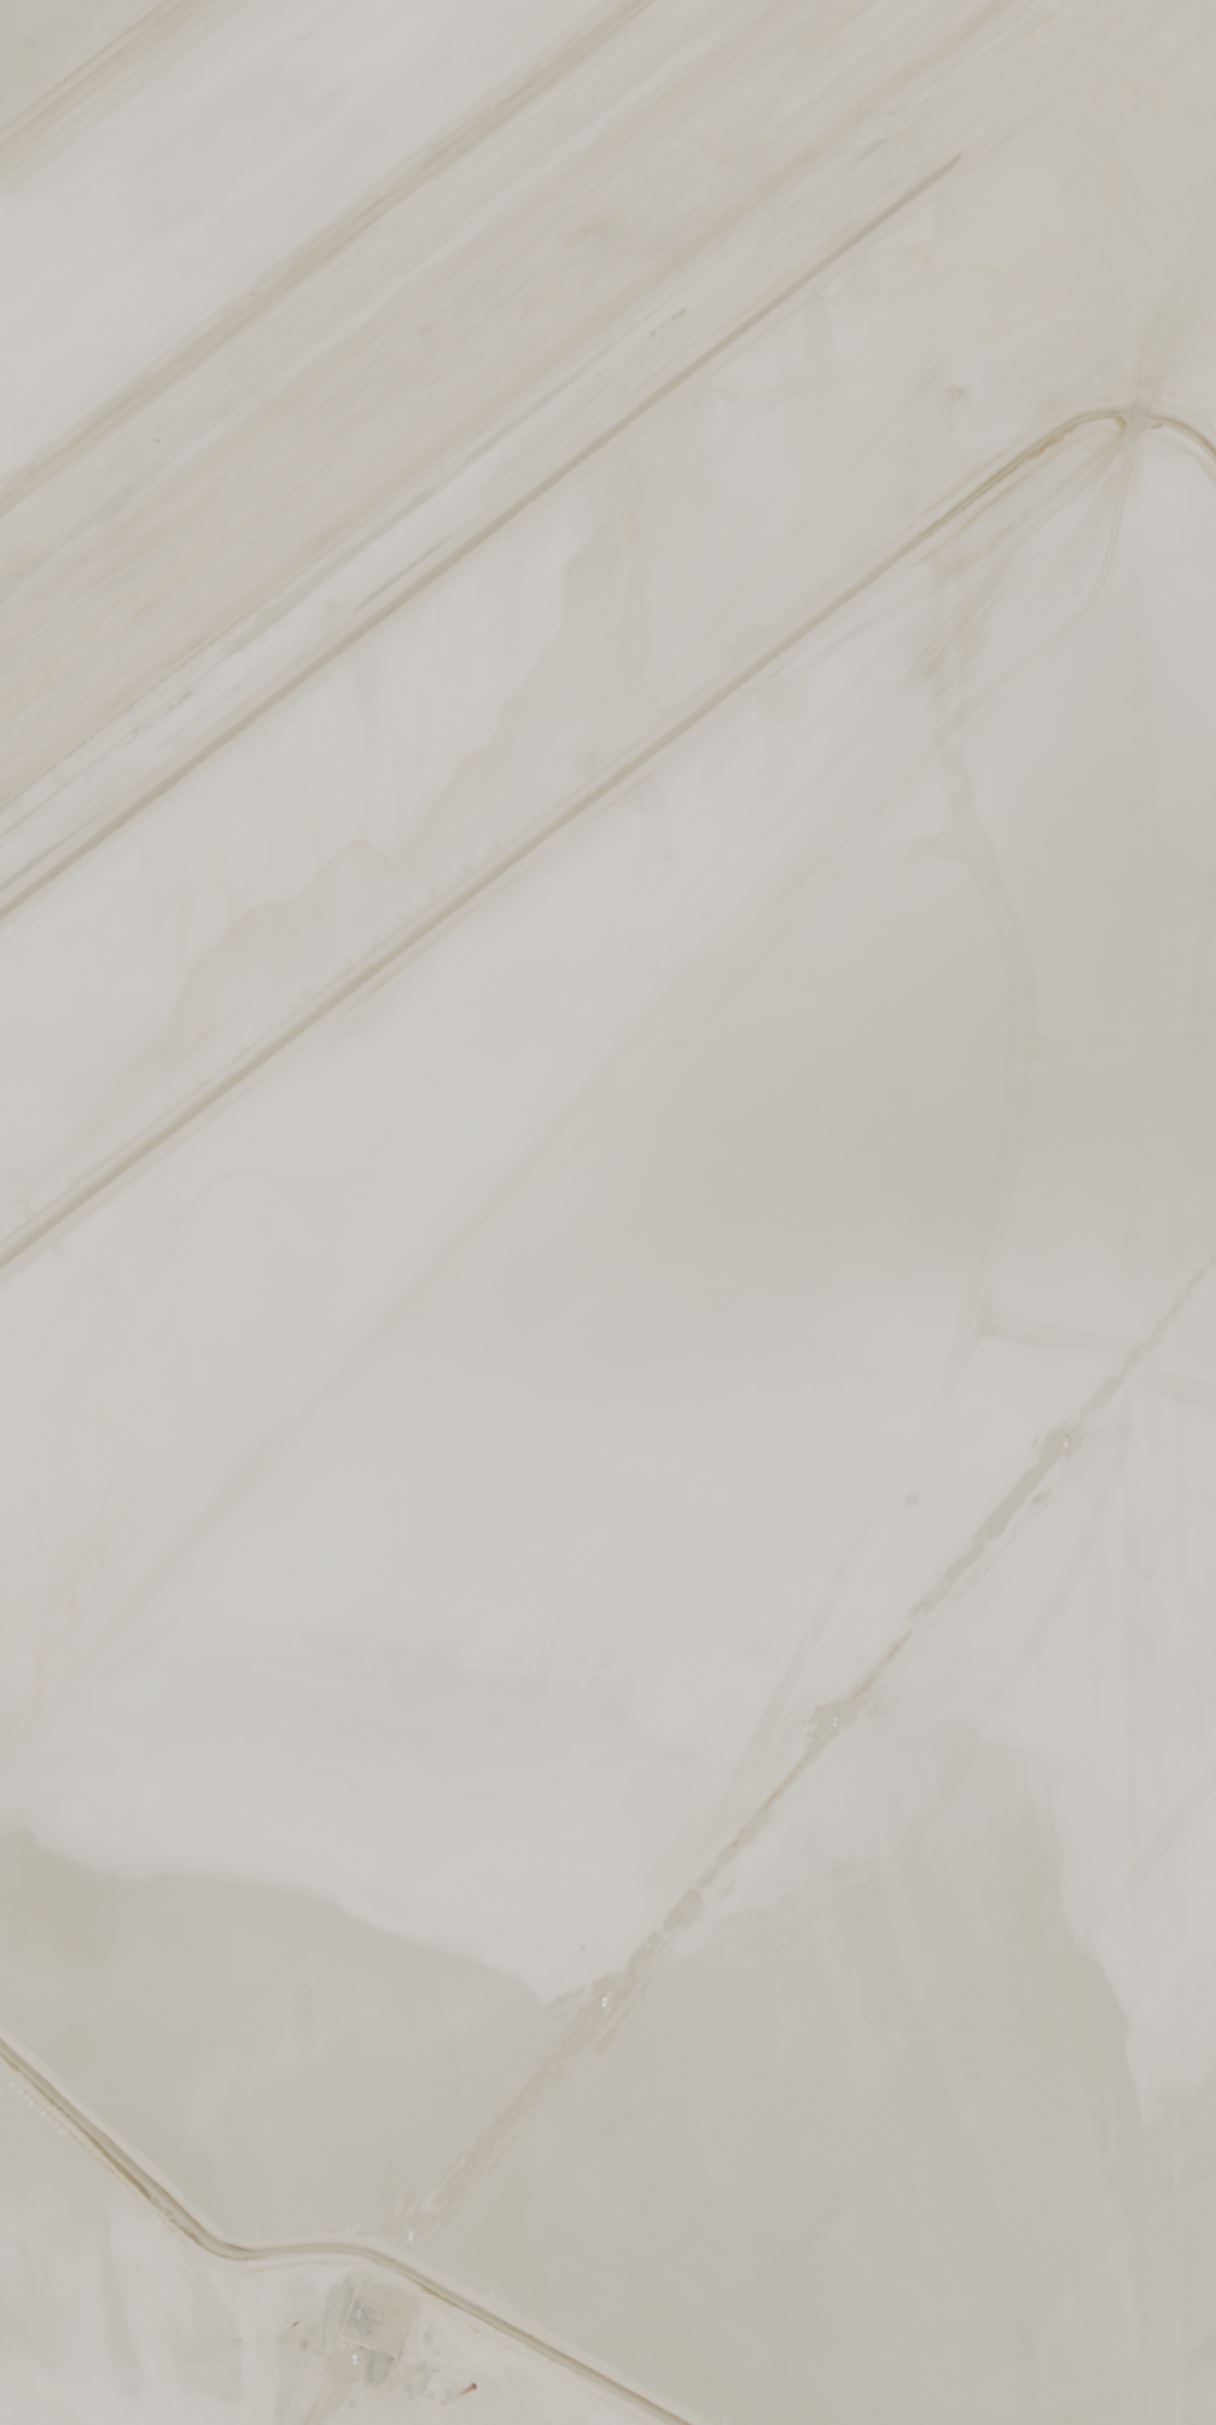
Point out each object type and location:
airport runway: (449, 354)
airport: (607, 1212)

